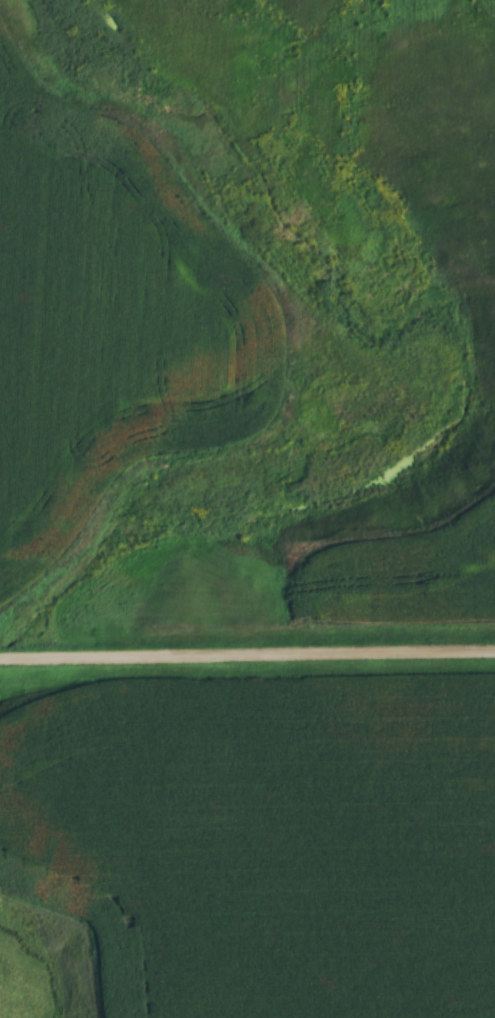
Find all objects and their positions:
road: (247, 651)

